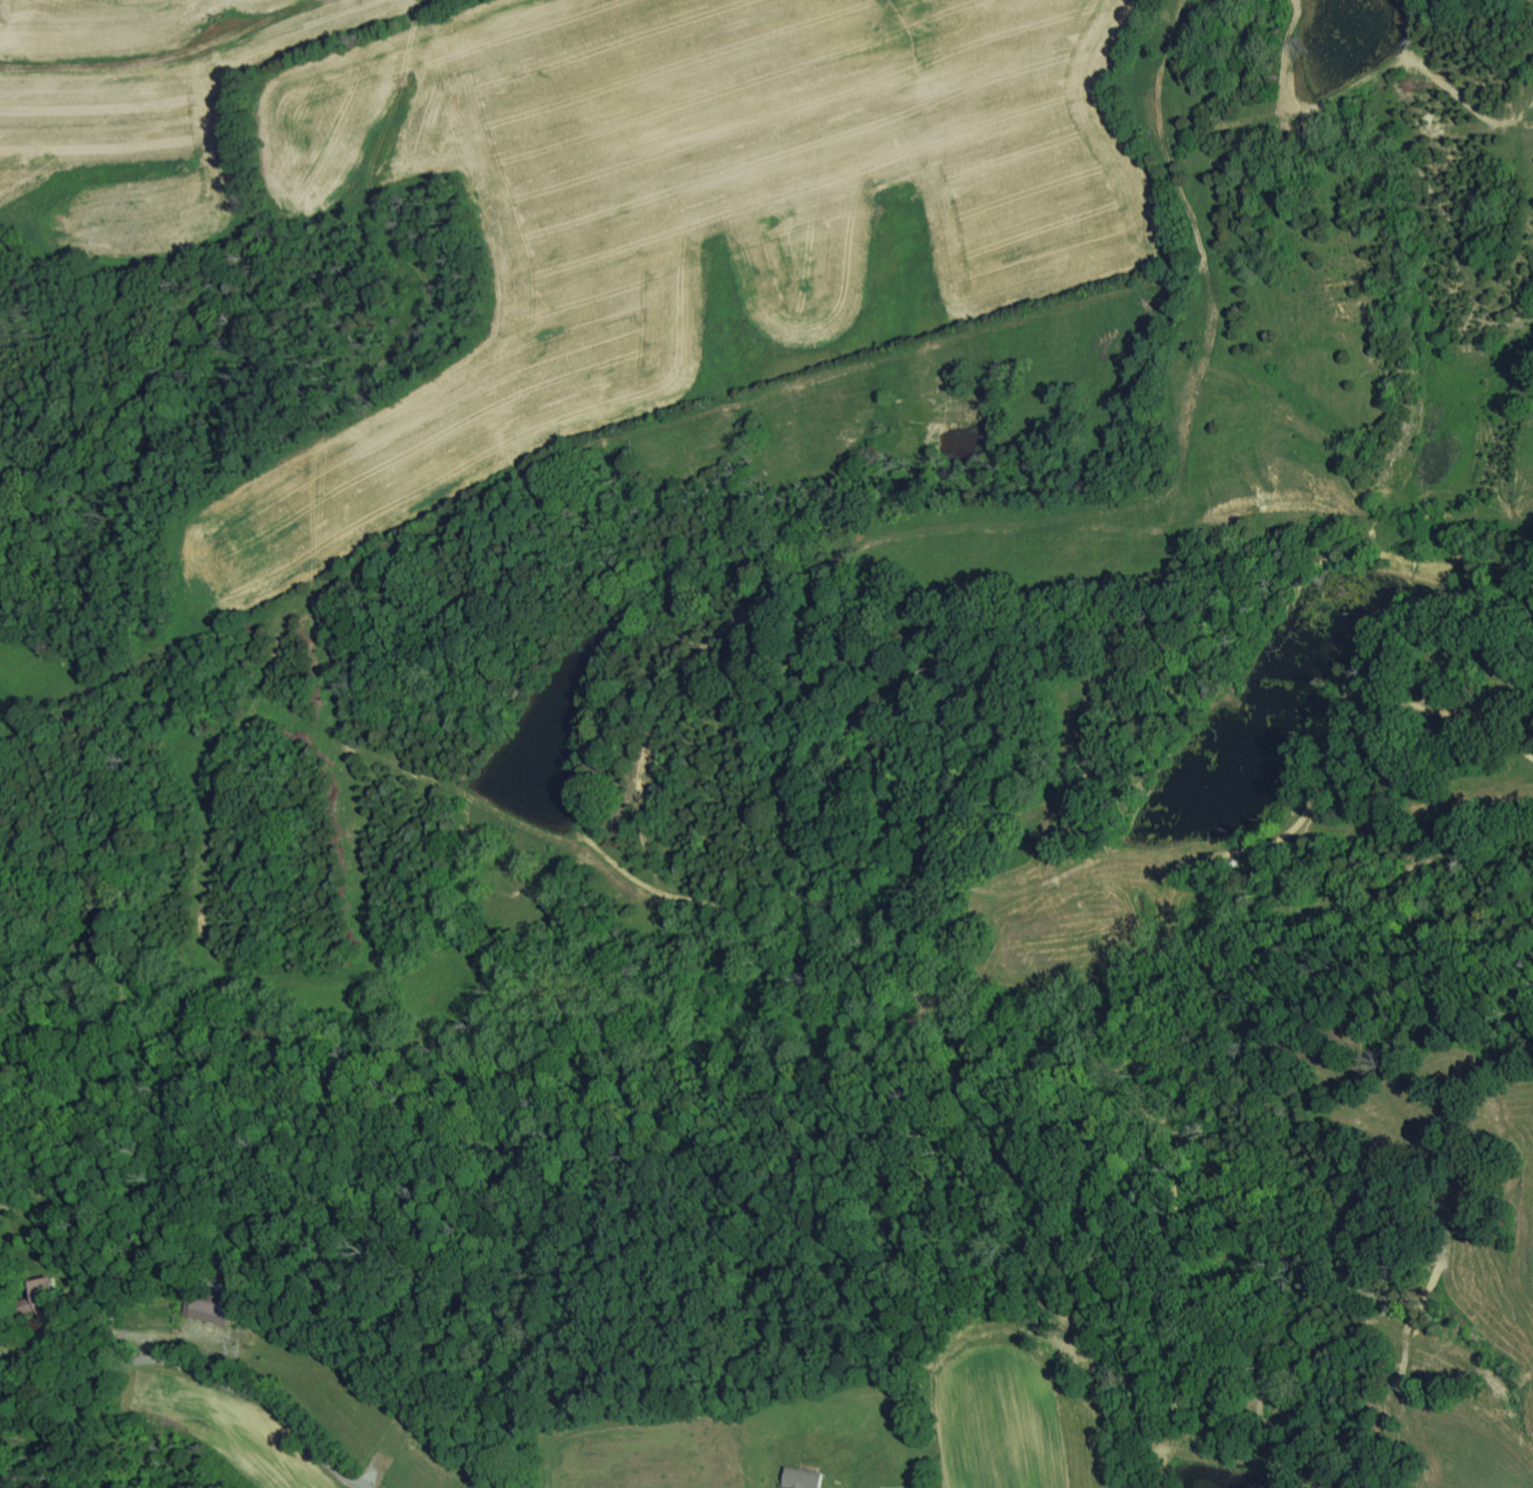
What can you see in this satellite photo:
building: (40, 1286)
building: (205, 1311)
road: (197, 1373)
building: (800, 1478)

